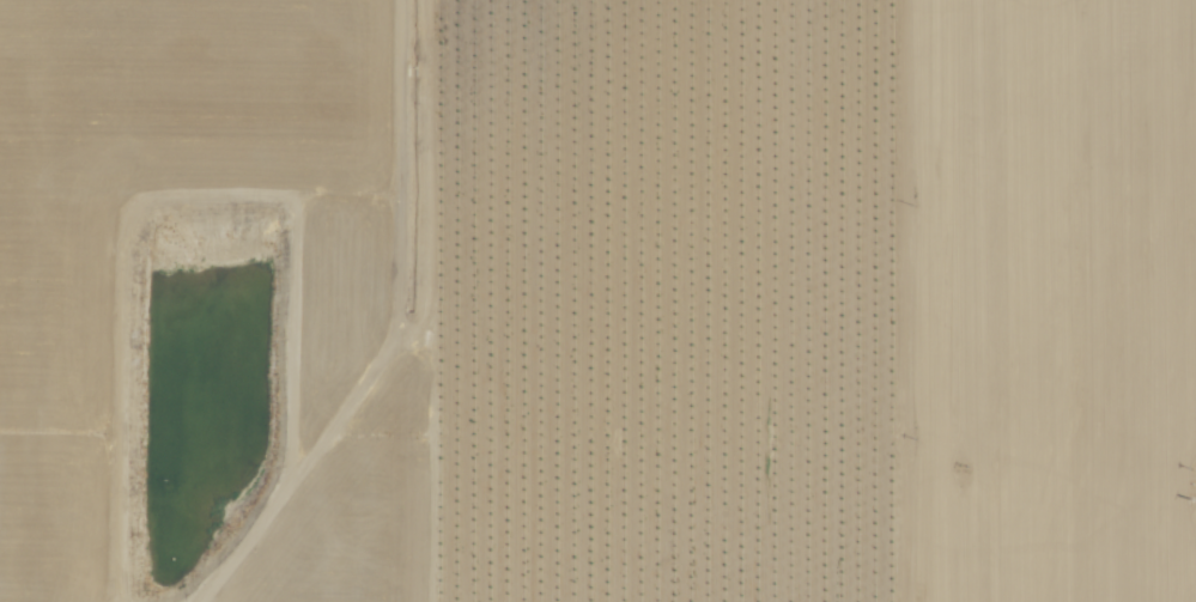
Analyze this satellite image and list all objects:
crop: (597, 300)
crop: (652, 302)

